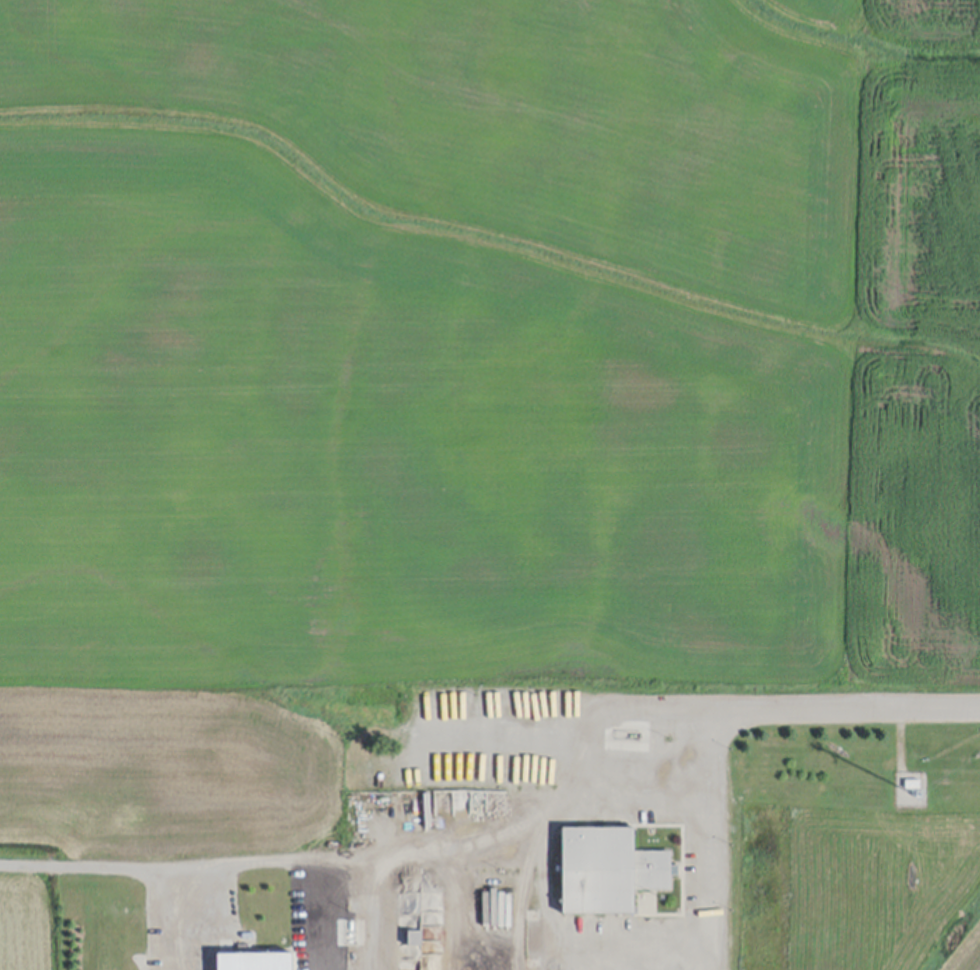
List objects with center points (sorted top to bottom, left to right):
building: (912, 786)
road: (498, 819)
building: (608, 876)
road: (321, 914)
road: (166, 919)

